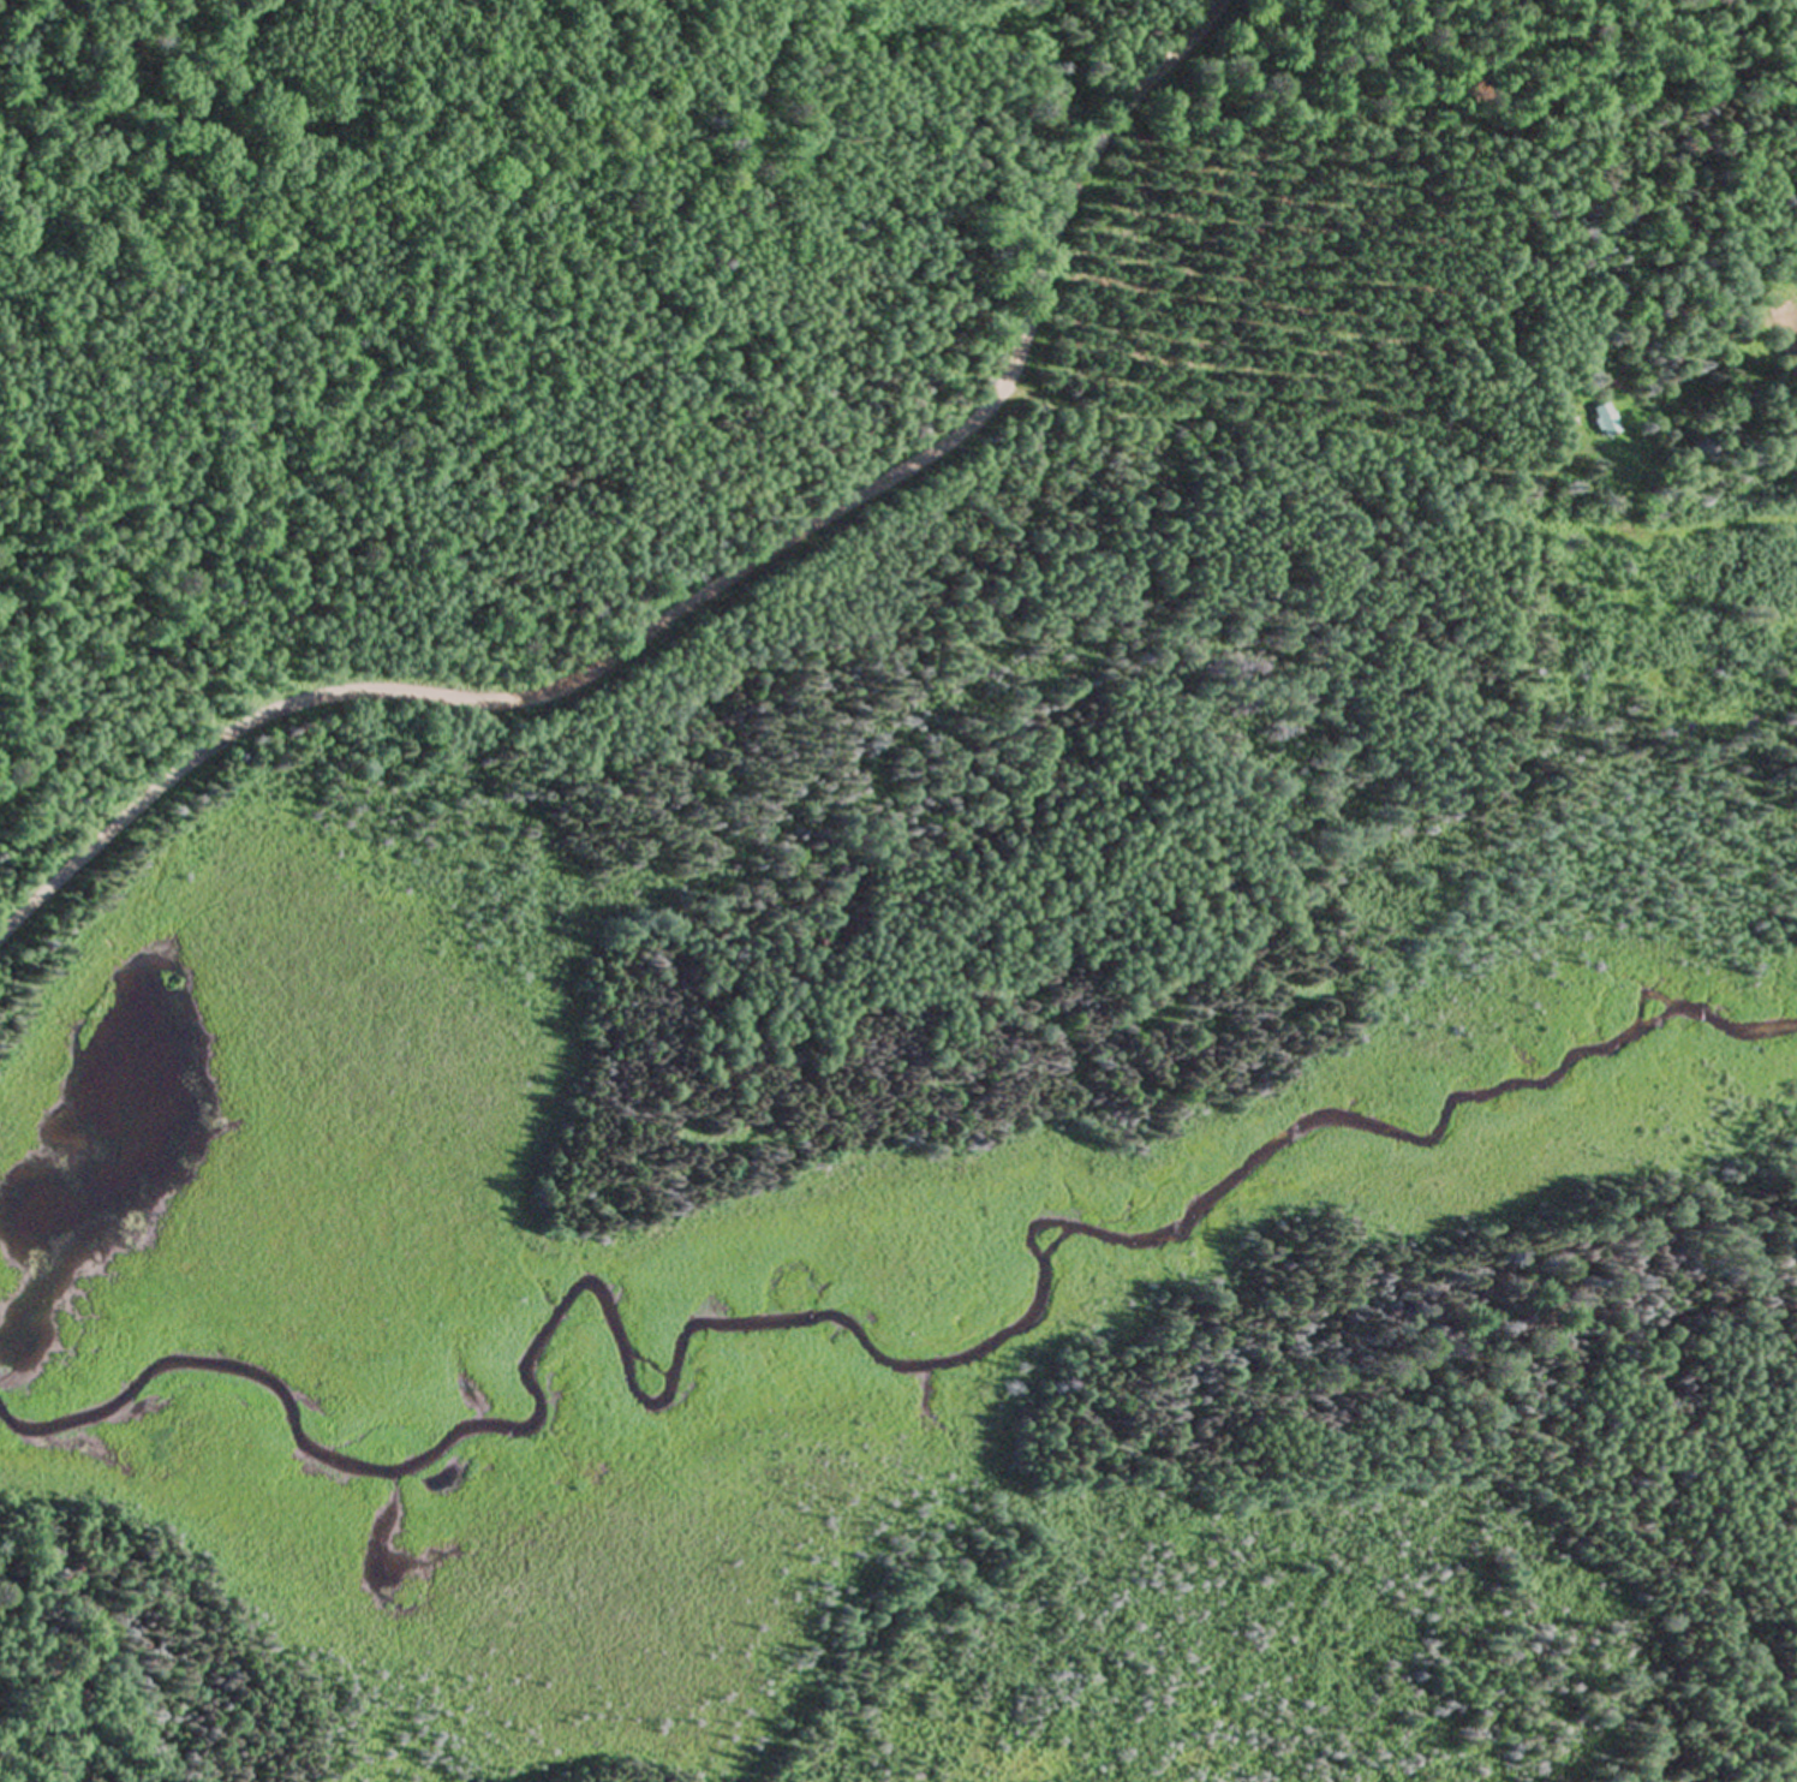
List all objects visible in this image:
building: (1602, 418)
road: (1333, 458)
road: (699, 589)

